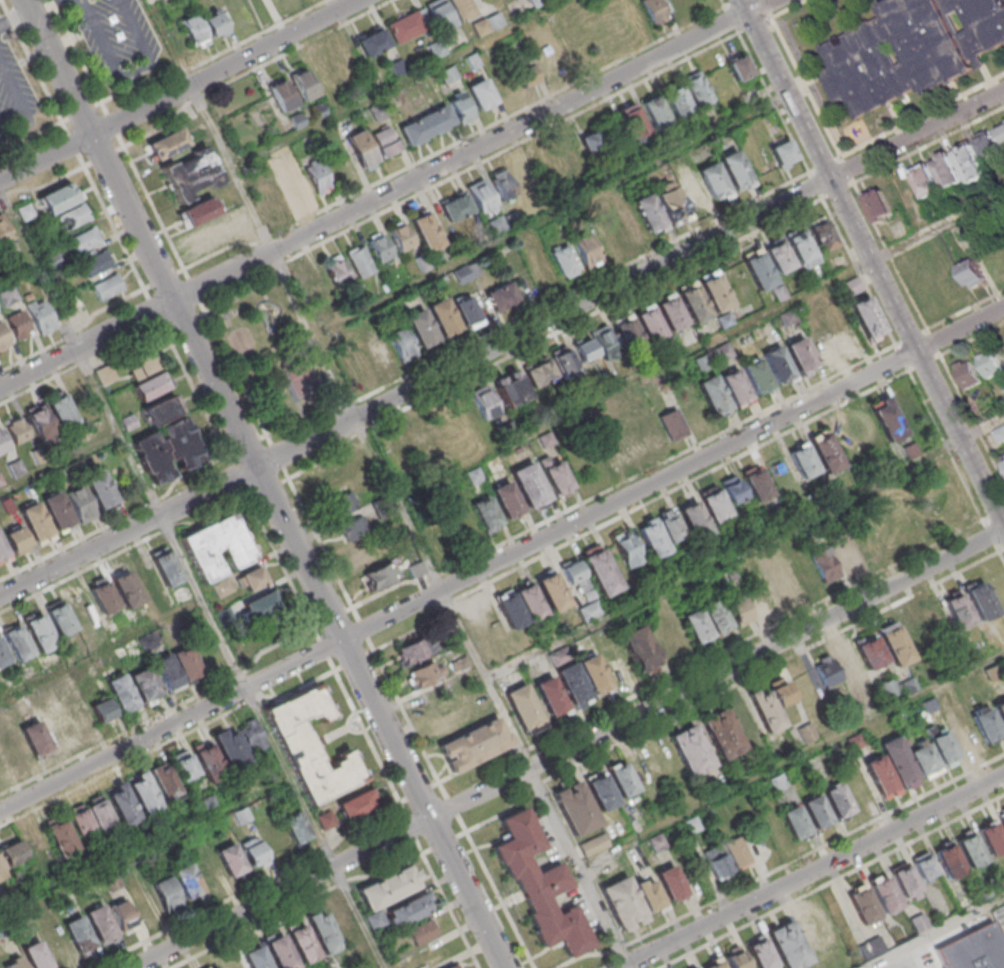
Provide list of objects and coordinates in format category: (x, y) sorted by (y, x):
road: (738, 2)
building: (535, 3)
road: (45, 6)
road: (786, 8)
building: (463, 9)
building: (654, 11)
road: (15, 13)
building: (439, 15)
building: (494, 22)
building: (214, 24)
road: (755, 24)
building: (405, 28)
building: (480, 28)
building: (193, 32)
parking lot: (119, 36)
building: (372, 43)
building: (435, 50)
building: (911, 50)
building: (543, 56)
road: (81, 57)
building: (738, 66)
road: (36, 67)
building: (397, 68)
road: (247, 72)
building: (447, 75)
building: (524, 75)
road: (402, 83)
building: (302, 86)
road: (806, 87)
building: (697, 88)
road: (180, 90)
building: (480, 94)
building: (281, 96)
parking lot: (17, 97)
building: (676, 100)
road: (775, 104)
road: (22, 107)
building: (459, 109)
building: (317, 111)
building: (655, 111)
road: (919, 118)
building: (632, 120)
building: (297, 122)
road: (116, 125)
building: (428, 127)
building: (1001, 133)
road: (28, 140)
building: (594, 140)
road: (457, 142)
building: (384, 143)
road: (76, 144)
building: (167, 145)
road: (929, 145)
building: (988, 145)
building: (361, 150)
building: (782, 153)
road: (105, 157)
building: (568, 158)
building: (971, 164)
road: (469, 167)
road: (826, 167)
building: (340, 169)
building: (734, 170)
road: (847, 170)
building: (948, 172)
building: (190, 174)
building: (317, 176)
building: (713, 181)
building: (927, 183)
building: (502, 184)
road: (47, 186)
building: (690, 190)
building: (301, 191)
building: (907, 191)
road: (386, 195)
building: (481, 196)
building: (58, 197)
building: (670, 203)
building: (270, 204)
building: (878, 206)
building: (455, 207)
road: (156, 208)
building: (197, 211)
building: (933, 213)
road: (553, 214)
building: (647, 214)
building: (73, 216)
road: (116, 227)
building: (4, 230)
building: (425, 230)
building: (628, 230)
building: (820, 234)
building: (400, 235)
building: (205, 236)
building: (85, 239)
building: (1003, 245)
building: (378, 246)
building: (800, 247)
building: (584, 249)
building: (777, 255)
road: (892, 258)
building: (359, 260)
building: (564, 260)
road: (872, 261)
building: (96, 264)
building: (757, 269)
building: (336, 272)
building: (973, 274)
road: (19, 277)
road: (631, 277)
road: (167, 279)
building: (852, 285)
building: (952, 285)
building: (312, 286)
building: (107, 287)
building: (714, 292)
road: (198, 293)
road: (265, 293)
road: (299, 294)
building: (499, 296)
building: (8, 298)
building: (692, 302)
road: (157, 311)
road: (540, 311)
building: (670, 311)
building: (322, 313)
building: (467, 314)
building: (43, 317)
building: (866, 317)
building: (442, 319)
building: (648, 322)
building: (21, 326)
building: (420, 329)
building: (625, 329)
road: (961, 329)
road: (80, 333)
building: (844, 336)
building: (4, 339)
building: (604, 341)
road: (935, 343)
building: (399, 344)
building: (821, 344)
building: (1002, 345)
road: (701, 348)
building: (584, 349)
building: (721, 352)
building: (378, 354)
park: (274, 356)
building: (800, 356)
building: (563, 361)
building: (356, 364)
building: (778, 365)
building: (990, 365)
park: (298, 371)
building: (539, 372)
building: (146, 374)
building: (105, 375)
building: (968, 375)
road: (239, 376)
building: (756, 376)
building: (735, 387)
building: (511, 391)
building: (713, 395)
building: (483, 402)
building: (60, 409)
building: (161, 410)
road: (971, 418)
building: (887, 419)
building: (39, 421)
building: (662, 428)
building: (17, 430)
building: (999, 435)
building: (425, 438)
building: (2, 442)
building: (628, 442)
road: (248, 446)
building: (167, 450)
building: (825, 452)
building: (609, 453)
road: (232, 454)
road: (280, 458)
building: (1003, 458)
building: (802, 460)
building: (1003, 460)
road: (60, 462)
building: (555, 475)
building: (328, 478)
road: (243, 483)
road: (268, 483)
building: (756, 483)
building: (529, 485)
building: (732, 489)
building: (101, 491)
building: (506, 500)
building: (341, 502)
building: (714, 504)
building: (82, 506)
building: (58, 512)
building: (485, 513)
road: (996, 513)
building: (693, 518)
road: (986, 518)
road: (117, 521)
road: (985, 522)
building: (36, 523)
building: (352, 527)
road: (129, 531)
road: (991, 534)
building: (16, 541)
road: (324, 546)
building: (215, 547)
road: (997, 547)
building: (626, 548)
road: (744, 548)
building: (844, 551)
building: (3, 553)
road: (1001, 555)
building: (824, 564)
building: (167, 570)
building: (600, 570)
road: (81, 573)
building: (574, 573)
building: (380, 576)
road: (192, 578)
building: (250, 578)
building: (781, 580)
road: (459, 583)
building: (222, 587)
road: (389, 588)
building: (551, 591)
building: (128, 592)
building: (180, 593)
building: (105, 600)
building: (980, 600)
building: (529, 601)
building: (258, 605)
building: (509, 609)
building: (589, 610)
building: (957, 610)
building: (739, 611)
building: (715, 615)
road: (333, 616)
building: (62, 621)
building: (696, 624)
building: (915, 631)
road: (366, 632)
road: (754, 634)
building: (41, 636)
building: (894, 644)
building: (19, 645)
building: (638, 648)
road: (101, 649)
road: (326, 652)
building: (413, 652)
building: (870, 653)
road: (374, 655)
building: (4, 658)
road: (357, 663)
road: (773, 664)
building: (189, 665)
building: (851, 668)
road: (340, 671)
building: (168, 672)
building: (827, 672)
building: (424, 675)
building: (583, 681)
building: (143, 685)
building: (123, 695)
building: (550, 697)
building: (769, 704)
building: (523, 710)
building: (1000, 710)
road: (163, 711)
building: (104, 713)
building: (77, 716)
road: (409, 719)
building: (986, 724)
building: (56, 728)
building: (721, 733)
building: (805, 733)
building: (251, 735)
building: (34, 738)
road: (368, 739)
building: (970, 739)
building: (313, 744)
building: (474, 744)
building: (942, 745)
building: (230, 746)
road: (568, 749)
building: (689, 749)
road: (521, 751)
building: (14, 752)
road: (792, 759)
building: (923, 759)
building: (208, 761)
building: (898, 762)
building: (183, 765)
road: (472, 765)
building: (879, 777)
building: (621, 778)
road: (537, 779)
building: (164, 781)
road: (538, 783)
building: (600, 790)
road: (417, 792)
building: (147, 797)
building: (356, 803)
building: (839, 803)
building: (125, 807)
road: (450, 807)
building: (574, 807)
road: (497, 814)
building: (818, 815)
building: (101, 816)
building: (243, 817)
building: (1001, 818)
building: (325, 819)
building: (794, 822)
building: (82, 823)
road: (409, 829)
building: (297, 830)
building: (991, 837)
building: (63, 840)
road: (441, 843)
building: (659, 843)
building: (592, 844)
building: (969, 848)
road: (145, 849)
road: (423, 852)
building: (739, 853)
building: (256, 854)
building: (14, 855)
building: (949, 860)
building: (232, 863)
building: (718, 865)
road: (781, 866)
building: (924, 867)
road: (811, 871)
building: (3, 872)
road: (831, 880)
building: (905, 881)
building: (114, 882)
building: (189, 884)
building: (538, 884)
building: (671, 885)
building: (388, 886)
road: (250, 887)
road: (493, 891)
building: (168, 894)
building: (650, 895)
building: (888, 897)
road: (443, 903)
building: (864, 906)
building: (410, 908)
building: (625, 908)
building: (124, 917)
road: (966, 917)
building: (375, 919)
building: (328, 924)
building: (101, 925)
building: (820, 930)
building: (422, 932)
building: (80, 936)
building: (301, 944)
building: (788, 946)
building: (871, 948)
building: (975, 950)
building: (280, 952)
building: (759, 952)
building: (37, 957)
building: (736, 958)
building: (258, 959)
building: (17, 964)
building: (714, 964)
building: (214, 966)
building: (453, 966)
road: (379, 967)
building: (693, 967)

